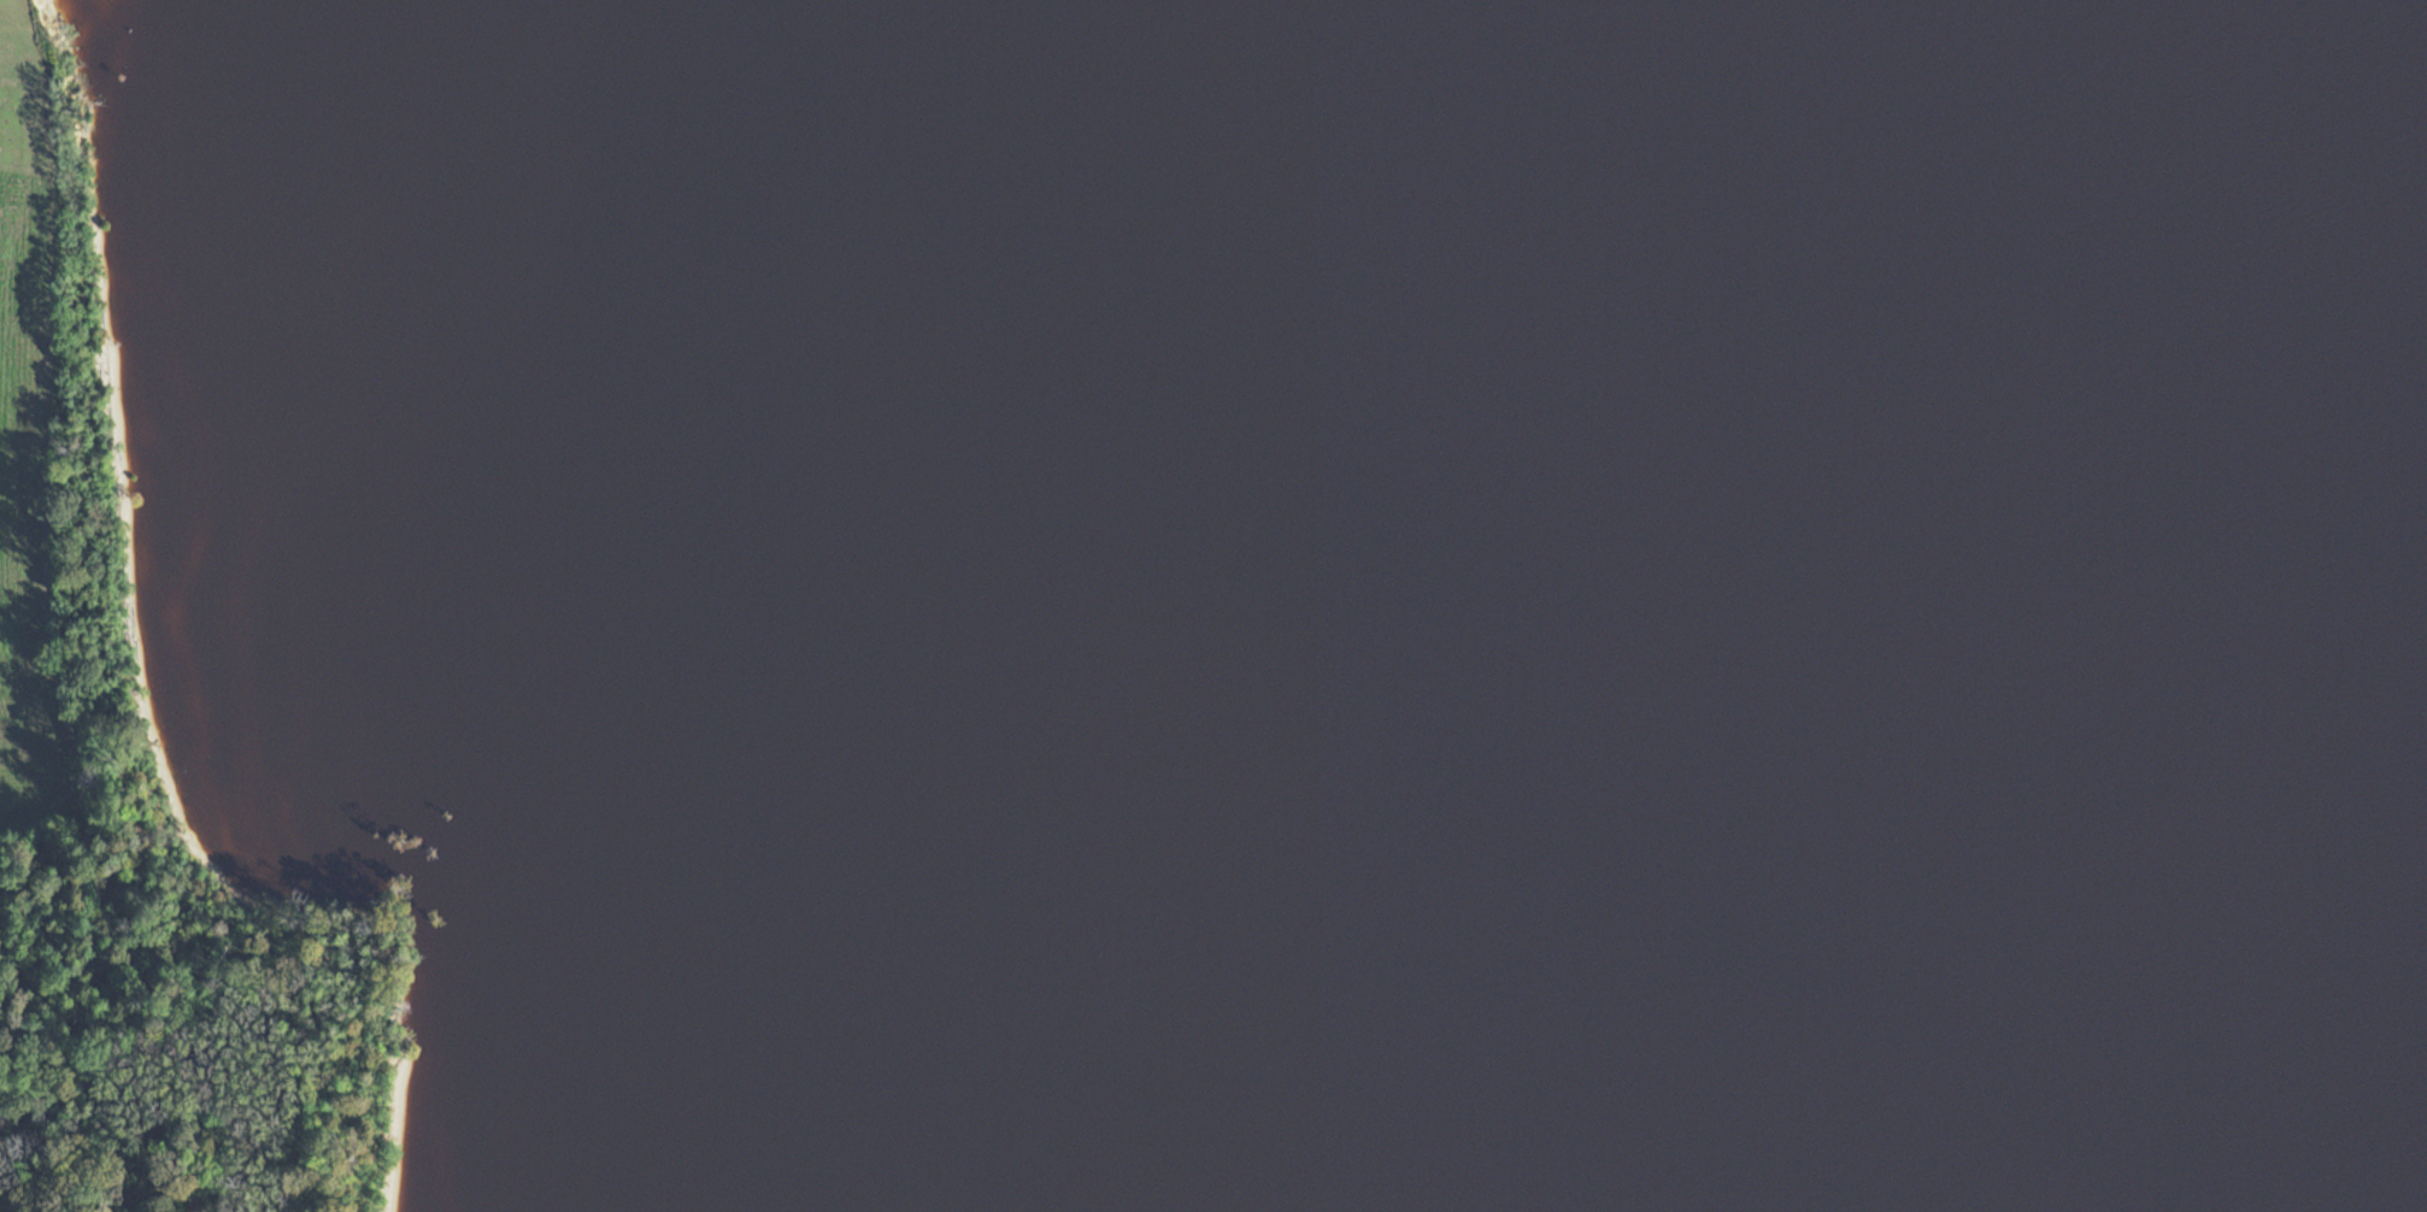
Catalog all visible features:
park: (140, 788)
park: (24, 1204)

